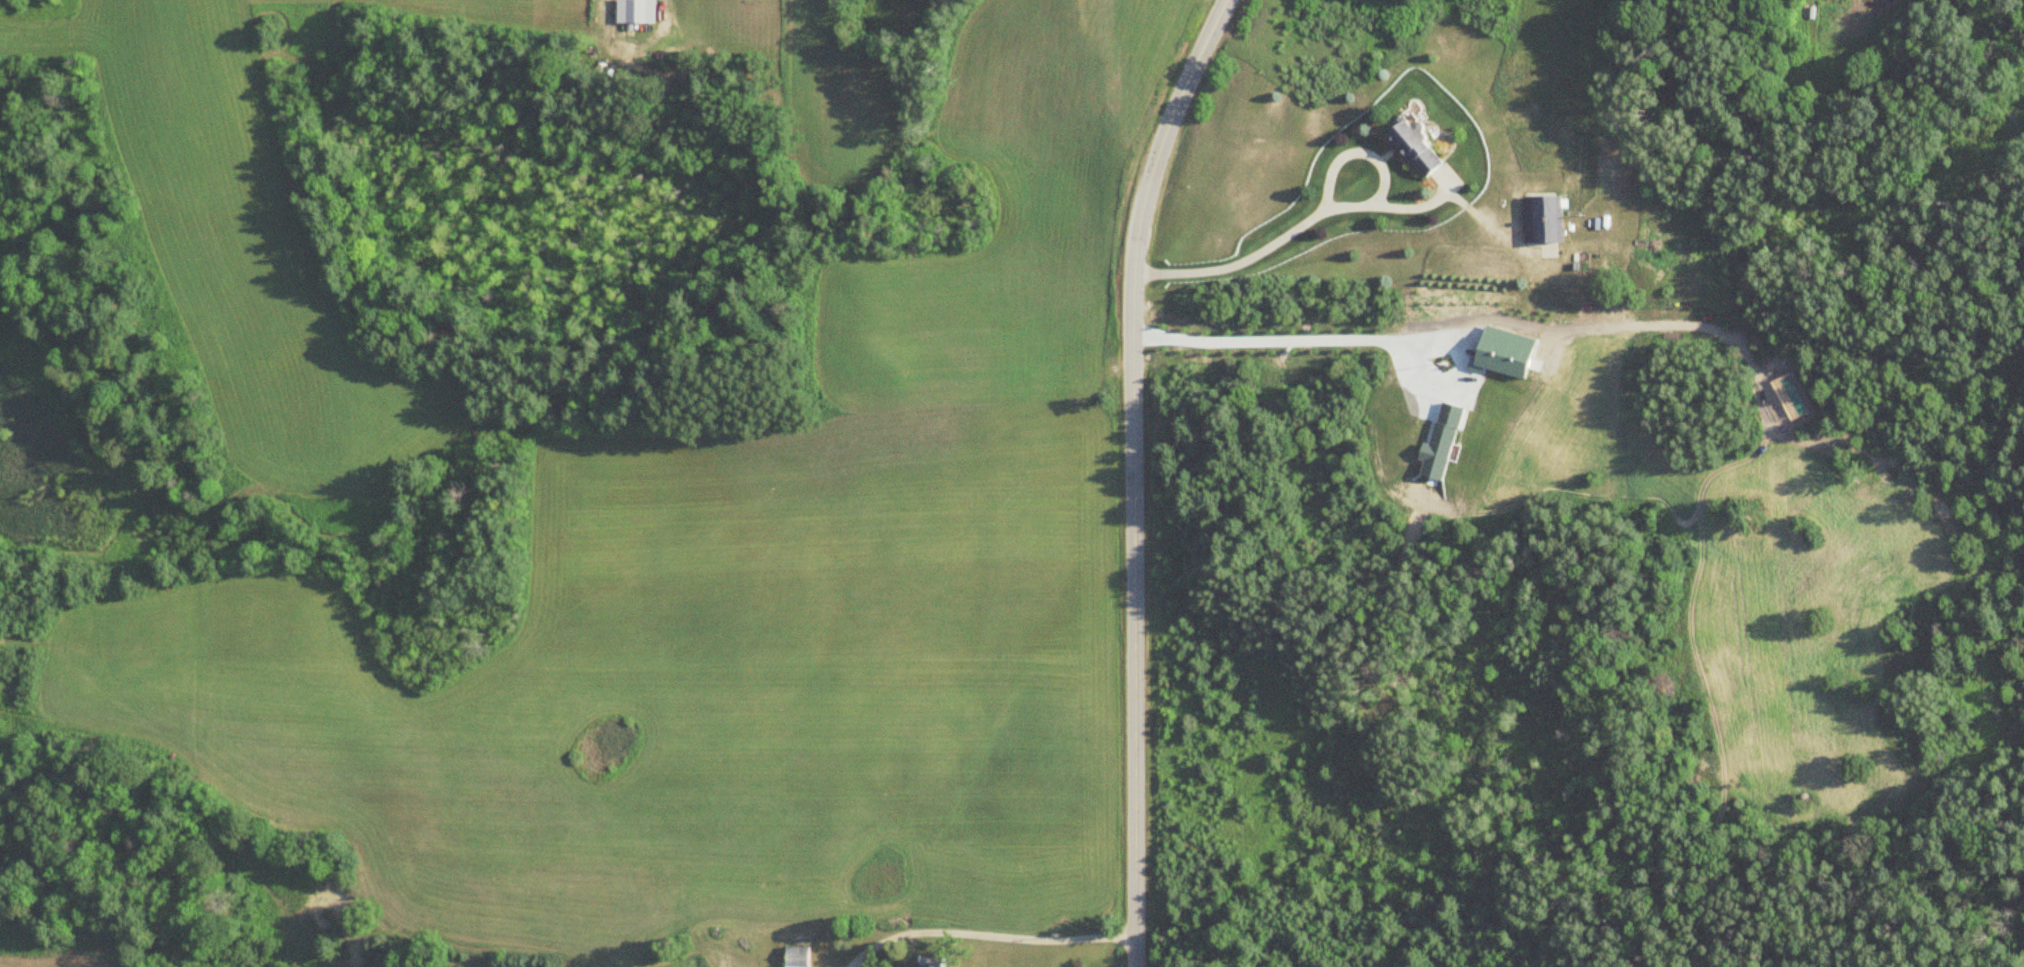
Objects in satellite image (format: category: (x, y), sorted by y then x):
building: (1404, 144)
building: (1537, 218)
road: (1142, 473)
building: (800, 957)
building: (941, 962)

